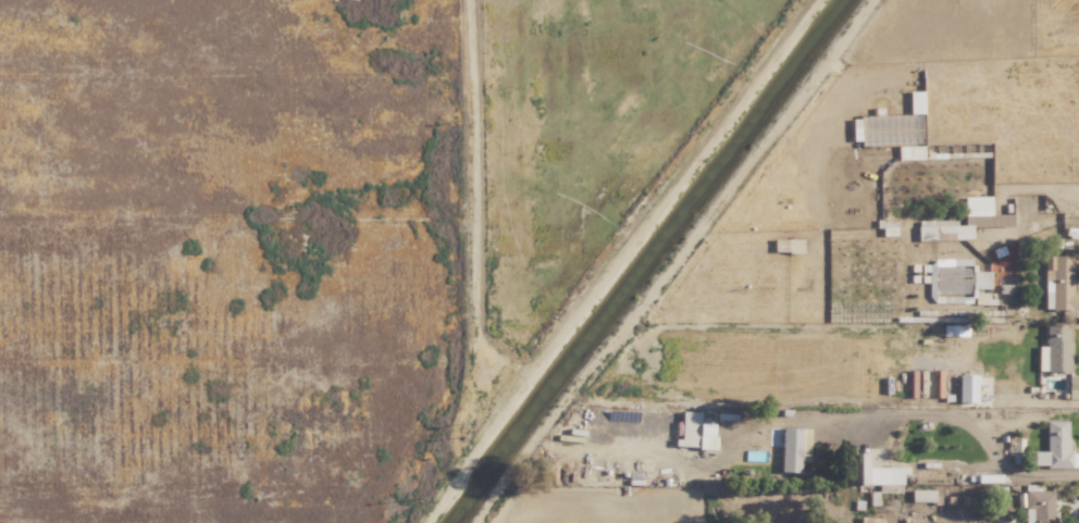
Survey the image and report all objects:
building: (915, 101)
road: (1043, 200)
building: (976, 204)
building: (942, 229)
building: (1058, 282)
building: (1054, 348)
building: (966, 387)
road: (932, 412)
building: (694, 431)
building: (1053, 445)
building: (793, 448)
building: (878, 472)
building: (921, 494)
building: (1038, 506)

